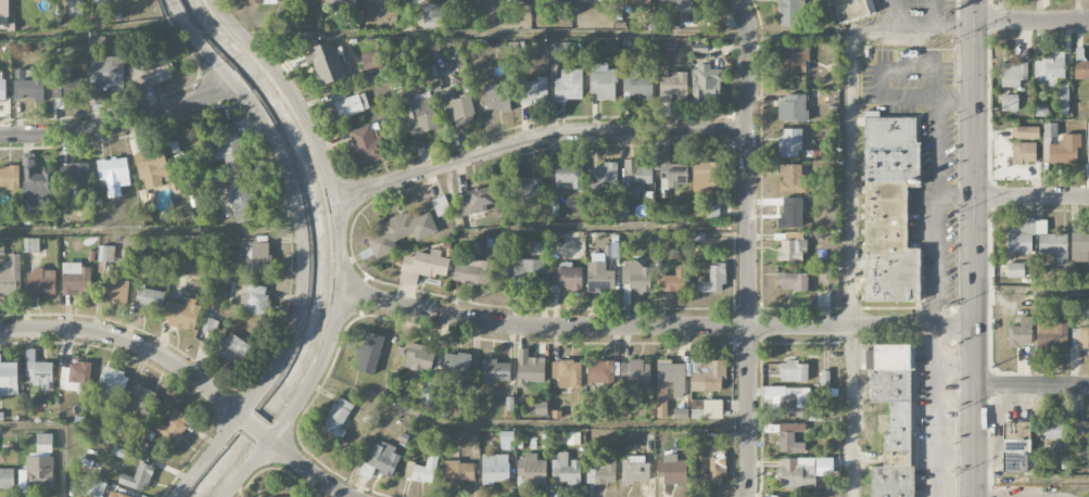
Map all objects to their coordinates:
building: (98, 0)
building: (519, 0)
building: (591, 0)
building: (262, 1)
building: (465, 1)
building: (633, 1)
building: (338, 2)
building: (683, 3)
building: (3, 8)
building: (74, 8)
building: (844, 9)
building: (790, 13)
road: (936, 13)
building: (433, 15)
traffic signals: (973, 18)
road: (1030, 18)
building: (97, 41)
building: (559, 51)
building: (793, 58)
building: (370, 62)
building: (327, 63)
building: (1050, 68)
building: (1081, 68)
building: (106, 71)
building: (151, 73)
building: (1013, 74)
building: (602, 81)
building: (706, 81)
building: (1, 82)
building: (28, 85)
building: (568, 86)
building: (673, 86)
building: (637, 87)
building: (62, 88)
building: (535, 91)
building: (94, 93)
building: (494, 98)
building: (1062, 100)
building: (1009, 102)
building: (349, 103)
building: (792, 109)
building: (459, 110)
building: (418, 113)
power tower: (990, 113)
road: (122, 124)
building: (1049, 131)
building: (1025, 132)
road: (536, 136)
building: (789, 142)
building: (365, 144)
building: (1088, 144)
road: (937, 148)
building: (1065, 150)
building: (229, 153)
building: (1023, 153)
building: (671, 171)
building: (569, 174)
building: (603, 174)
building: (113, 175)
building: (635, 175)
building: (10, 177)
building: (705, 177)
building: (790, 178)
building: (74, 180)
building: (36, 181)
building: (528, 188)
road: (1031, 195)
road: (295, 199)
building: (242, 200)
building: (477, 200)
building: (441, 205)
road: (852, 205)
building: (890, 207)
building: (554, 208)
road: (338, 209)
building: (705, 212)
building: (790, 212)
building: (401, 232)
building: (1052, 243)
building: (30, 245)
road: (747, 246)
building: (789, 246)
building: (1079, 246)
building: (540, 247)
road: (974, 247)
building: (105, 253)
building: (256, 256)
road: (933, 259)
building: (181, 265)
building: (422, 266)
building: (1015, 269)
building: (471, 270)
building: (527, 271)
building: (825, 272)
building: (598, 273)
building: (11, 275)
building: (566, 276)
building: (636, 277)
building: (75, 279)
building: (713, 279)
building: (672, 280)
building: (792, 281)
building: (40, 282)
building: (115, 292)
building: (148, 297)
building: (254, 298)
building: (181, 314)
road: (654, 326)
building: (208, 328)
building: (1051, 332)
building: (1020, 333)
building: (1081, 336)
road: (135, 343)
building: (232, 351)
building: (368, 357)
building: (419, 357)
building: (456, 365)
building: (529, 368)
power tower: (991, 369)
building: (495, 370)
building: (38, 371)
building: (794, 371)
building: (599, 372)
building: (635, 372)
building: (567, 373)
building: (707, 374)
building: (75, 377)
building: (9, 378)
building: (113, 382)
road: (1031, 385)
building: (678, 390)
building: (428, 396)
building: (792, 402)
building: (144, 403)
building: (541, 408)
building: (712, 409)
building: (892, 416)
building: (337, 418)
building: (174, 425)
building: (786, 426)
road: (253, 428)
building: (1054, 429)
building: (1079, 431)
building: (506, 439)
building: (701, 442)
building: (42, 443)
building: (789, 443)
building: (1015, 447)
road: (207, 456)
building: (380, 461)
road: (303, 467)
road: (245, 468)
building: (566, 468)
building: (422, 469)
building: (494, 469)
building: (634, 469)
building: (531, 470)
building: (600, 470)
building: (671, 470)
building: (458, 472)
building: (796, 472)
building: (38, 473)
building: (712, 473)
building: (138, 477)
building: (7, 479)
building: (92, 487)
building: (116, 495)

